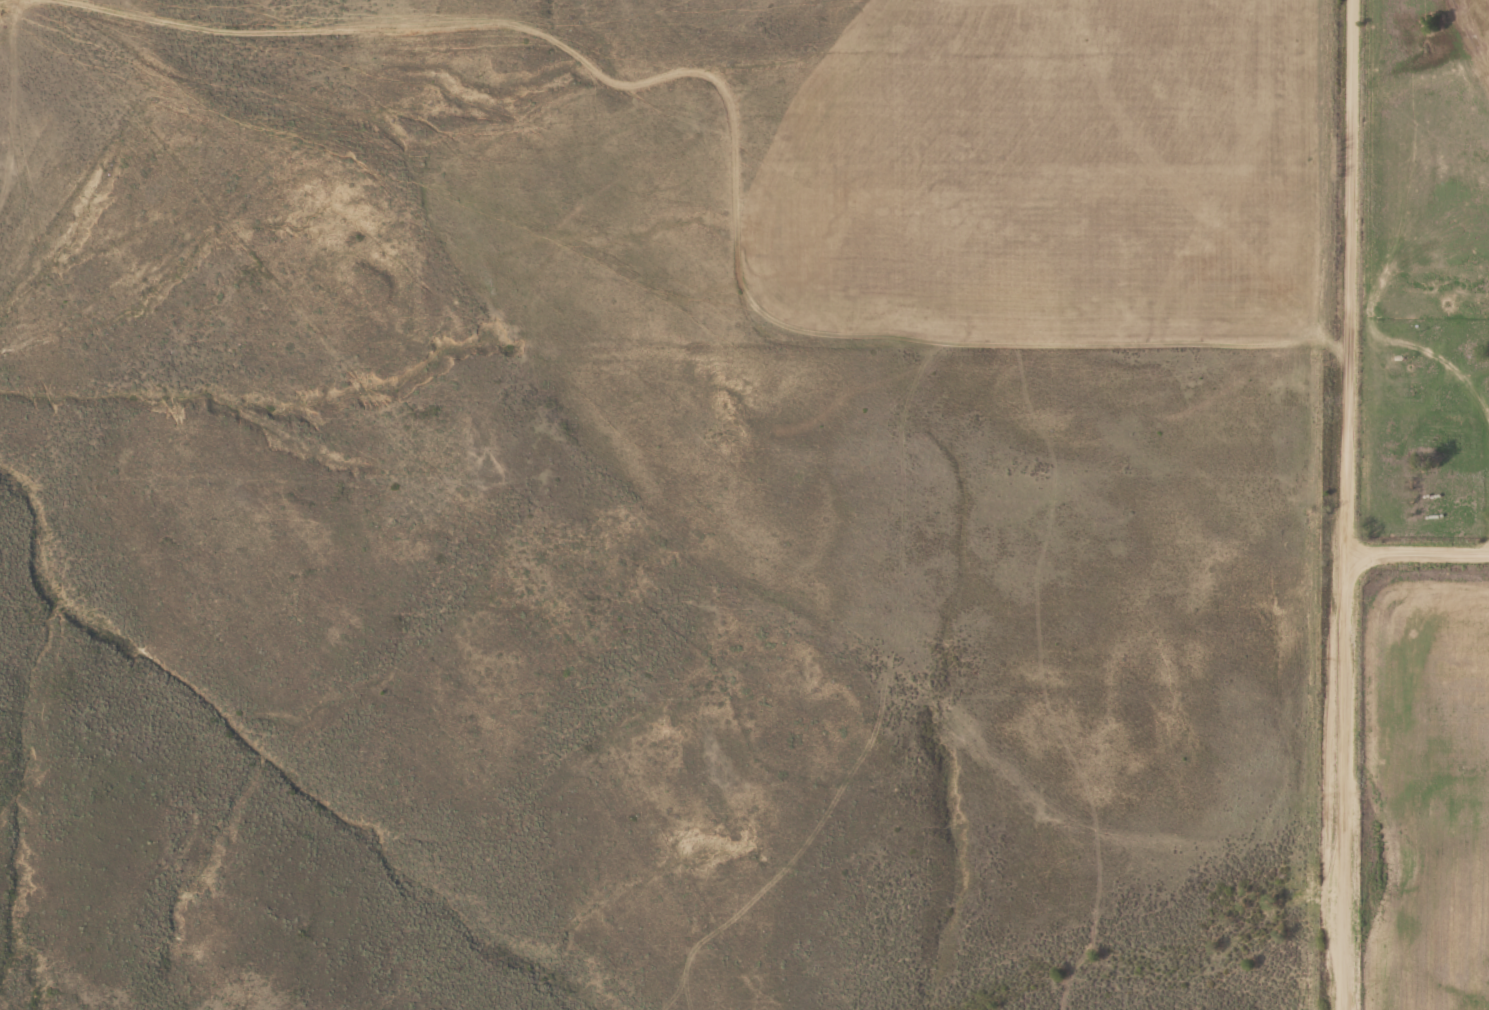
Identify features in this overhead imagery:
road: (1351, 505)
road: (1420, 550)

